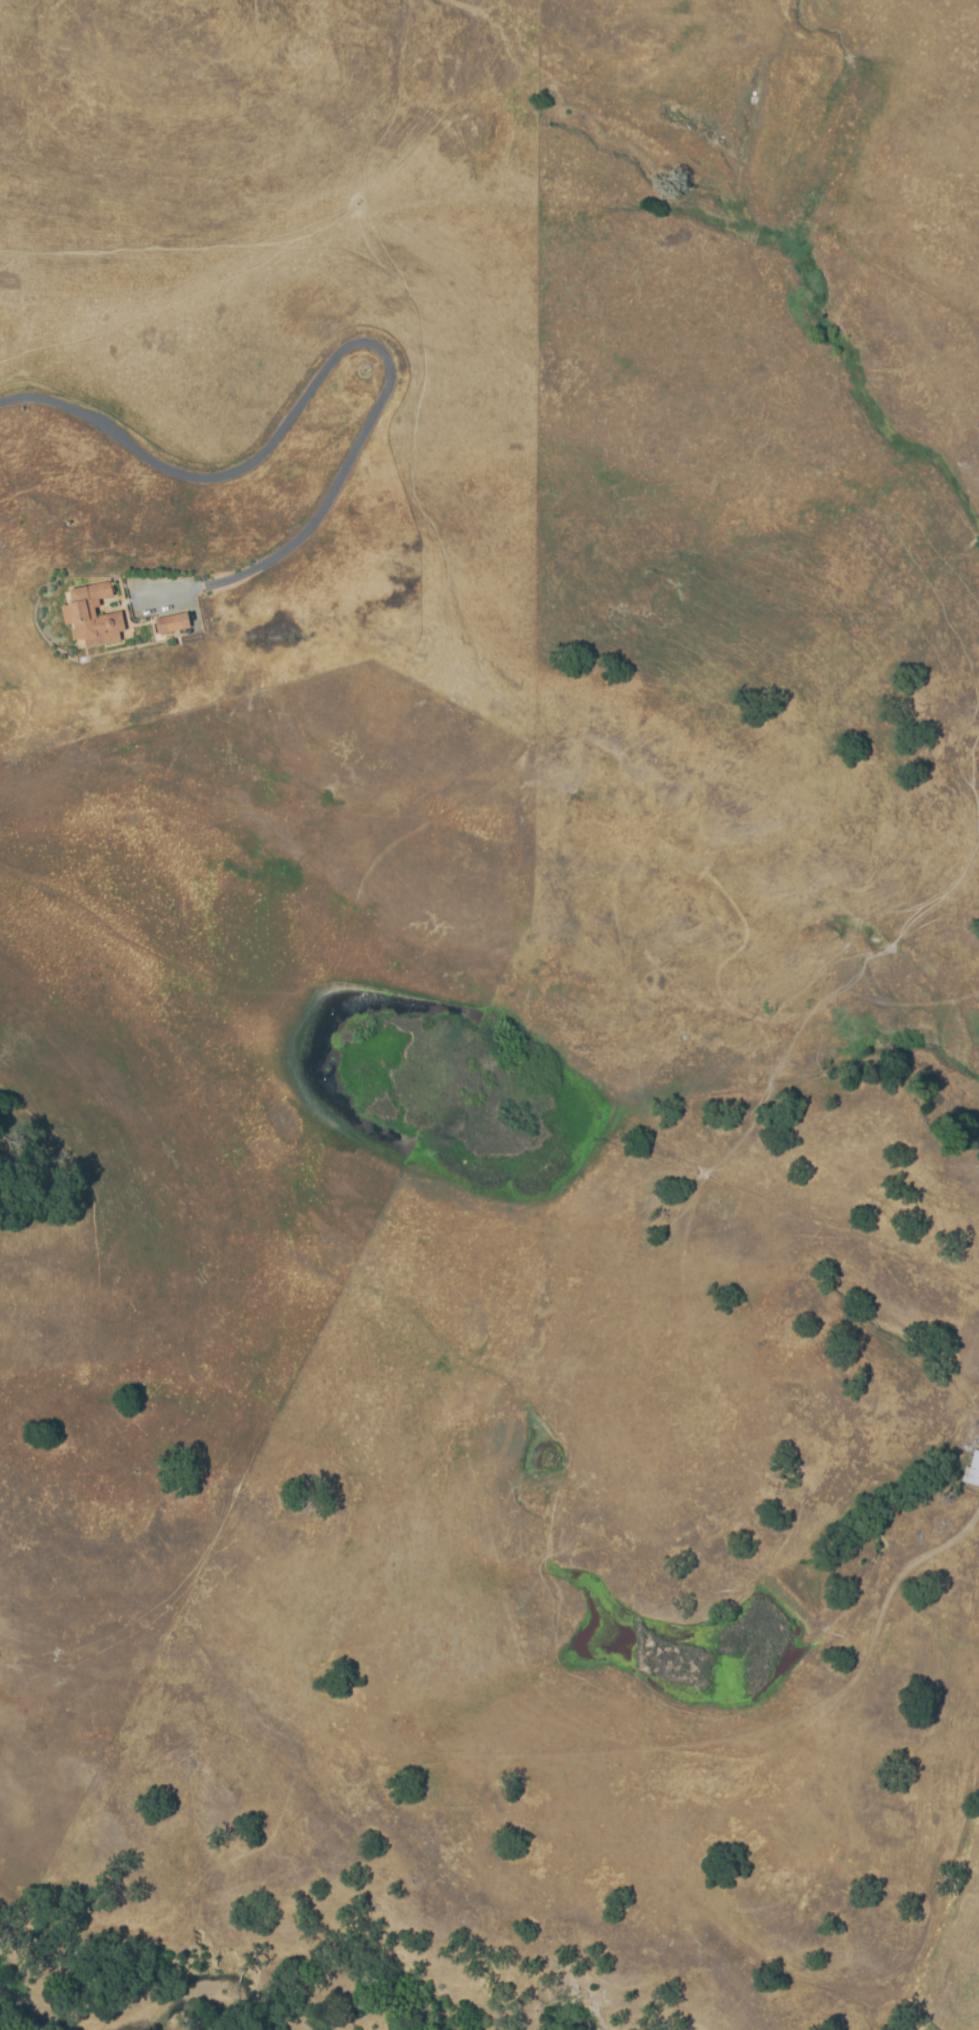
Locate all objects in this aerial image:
road: (319, 377)
building: (94, 617)
building: (174, 623)
building: (972, 1472)

